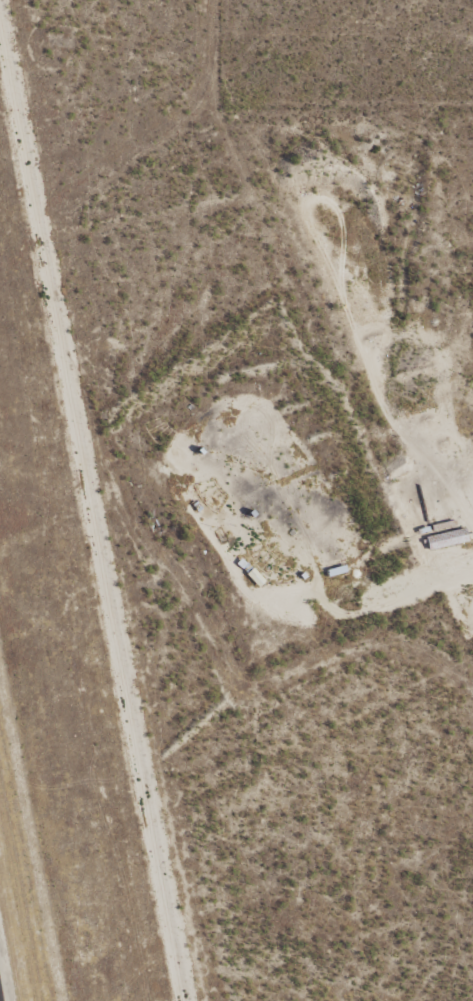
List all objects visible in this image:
airport: (62, 670)

